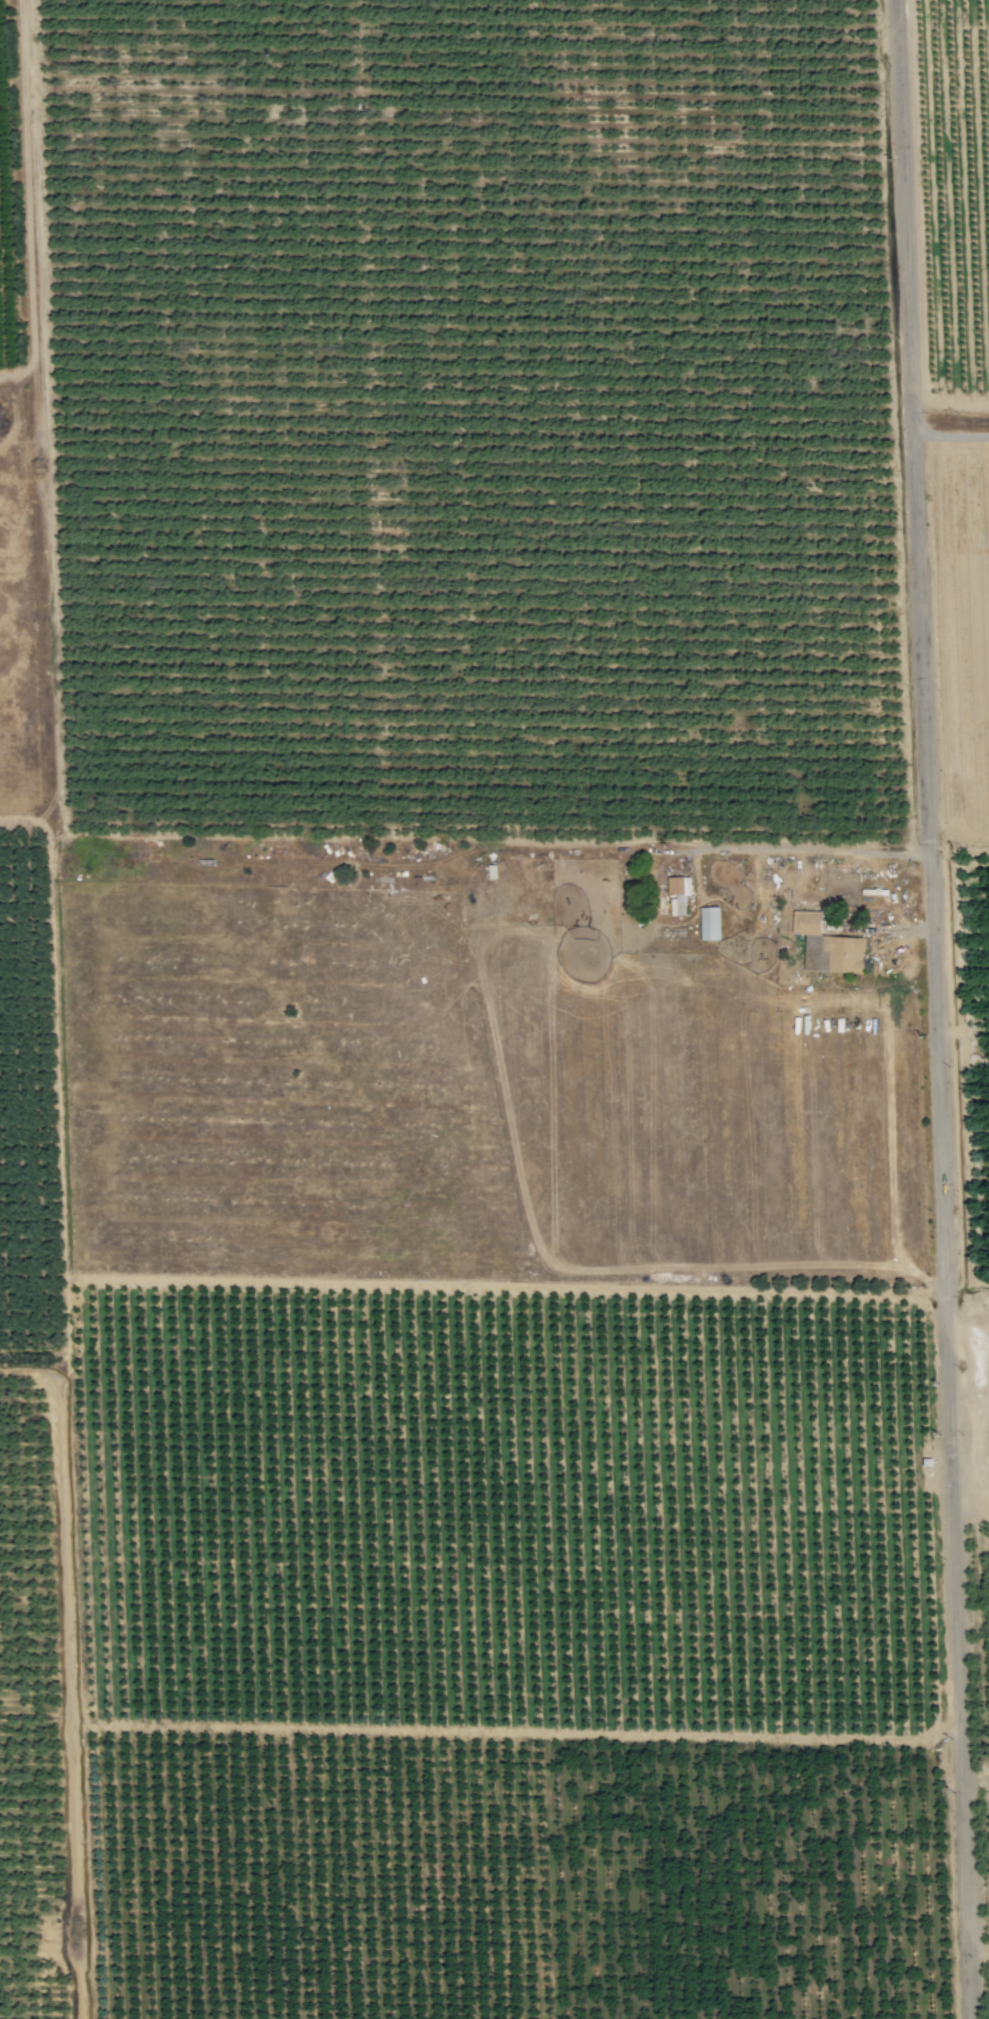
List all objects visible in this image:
building: (679, 894)
building: (710, 923)
building: (807, 923)
building: (845, 954)
road: (937, 1009)

